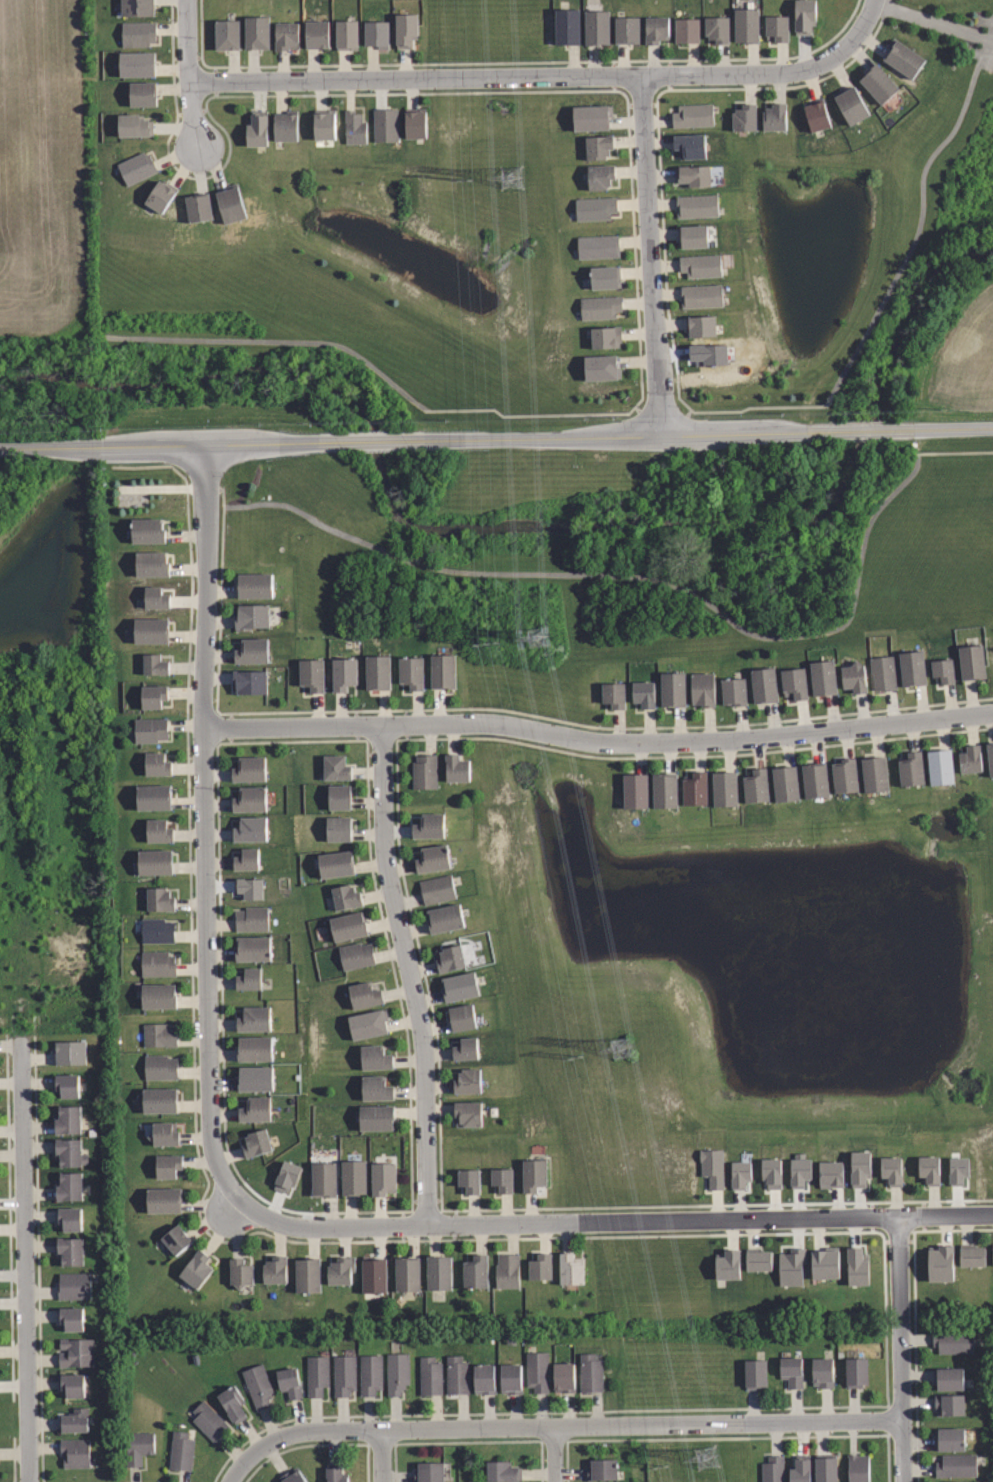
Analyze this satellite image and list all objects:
building: (136, 7)
building: (805, 16)
building: (745, 24)
building: (568, 25)
building: (598, 26)
building: (776, 27)
building: (716, 28)
road: (858, 28)
building: (407, 30)
building: (626, 30)
building: (655, 30)
building: (686, 30)
building: (256, 31)
building: (137, 33)
building: (348, 33)
building: (375, 33)
building: (226, 34)
building: (315, 34)
building: (287, 36)
building: (905, 59)
building: (136, 64)
road: (188, 71)
road: (516, 78)
building: (877, 84)
building: (141, 94)
building: (851, 104)
building: (693, 115)
building: (817, 115)
building: (591, 117)
building: (774, 117)
building: (744, 118)
building: (415, 122)
building: (324, 124)
building: (134, 125)
building: (386, 125)
building: (286, 126)
building: (354, 127)
building: (257, 128)
building: (690, 145)
building: (597, 146)
building: (137, 168)
building: (693, 174)
building: (601, 176)
power tower: (511, 180)
building: (161, 194)
building: (231, 204)
building: (699, 206)
building: (199, 207)
building: (598, 209)
road: (919, 221)
building: (694, 236)
building: (599, 245)
road: (649, 256)
building: (701, 265)
building: (605, 276)
building: (703, 296)
building: (602, 307)
building: (702, 326)
building: (606, 337)
building: (599, 367)
road: (496, 437)
building: (148, 530)
building: (153, 563)
road: (634, 575)
building: (255, 586)
building: (155, 596)
building: (252, 617)
building: (153, 628)
power tower: (541, 644)
building: (252, 650)
building: (972, 661)
building: (154, 663)
building: (913, 667)
building: (943, 670)
building: (445, 671)
building: (380, 672)
building: (413, 672)
building: (883, 673)
building: (314, 674)
building: (346, 675)
building: (825, 677)
building: (853, 677)
building: (252, 682)
building: (765, 684)
building: (796, 685)
building: (671, 690)
building: (702, 690)
building: (733, 691)
building: (614, 693)
building: (643, 693)
building: (154, 695)
building: (151, 730)
road: (598, 742)
building: (991, 756)
building: (968, 759)
building: (157, 764)
building: (336, 766)
building: (941, 766)
building: (911, 768)
building: (250, 769)
building: (455, 769)
building: (422, 771)
building: (875, 773)
building: (845, 774)
building: (816, 780)
building: (786, 783)
building: (757, 786)
building: (530, 788)
building: (694, 788)
building: (726, 788)
building: (636, 790)
building: (666, 790)
building: (339, 796)
building: (154, 797)
building: (250, 799)
road: (203, 825)
building: (429, 825)
building: (251, 828)
building: (339, 828)
building: (159, 830)
building: (433, 858)
building: (246, 859)
building: (156, 861)
building: (337, 864)
building: (248, 887)
building: (438, 889)
building: (347, 896)
building: (161, 899)
building: (253, 919)
building: (446, 919)
building: (349, 926)
building: (159, 930)
building: (254, 949)
building: (356, 956)
building: (448, 957)
building: (159, 964)
road: (410, 974)
building: (249, 978)
building: (461, 987)
building: (364, 994)
building: (159, 995)
building: (461, 1015)
building: (254, 1019)
building: (367, 1025)
building: (160, 1035)
building: (255, 1049)
building: (465, 1049)
power tower: (622, 1049)
building: (70, 1053)
building: (375, 1058)
building: (161, 1067)
building: (255, 1079)
building: (467, 1079)
building: (66, 1085)
building: (377, 1089)
building: (161, 1100)
building: (255, 1110)
building: (467, 1112)
building: (378, 1118)
building: (69, 1120)
building: (165, 1134)
building: (258, 1142)
building: (70, 1152)
building: (169, 1166)
building: (712, 1167)
building: (958, 1168)
building: (860, 1169)
building: (930, 1169)
building: (893, 1170)
building: (800, 1171)
building: (533, 1172)
building: (771, 1173)
building: (740, 1174)
building: (830, 1174)
building: (287, 1177)
building: (356, 1178)
building: (326, 1179)
building: (385, 1179)
building: (468, 1180)
building: (500, 1180)
building: (70, 1186)
building: (165, 1200)
building: (71, 1218)
road: (612, 1222)
building: (175, 1238)
building: (72, 1251)
building: (973, 1255)
building: (989, 1258)
building: (758, 1259)
road: (24, 1260)
building: (940, 1262)
building: (825, 1264)
building: (727, 1266)
building: (537, 1267)
building: (791, 1267)
building: (857, 1267)
building: (196, 1269)
building: (275, 1269)
building: (340, 1270)
building: (568, 1270)
building: (476, 1271)
building: (507, 1271)
building: (241, 1272)
building: (439, 1273)
building: (408, 1274)
building: (308, 1275)
building: (375, 1275)
building: (73, 1285)
building: (70, 1318)
building: (952, 1341)
road: (902, 1349)
building: (76, 1352)
building: (789, 1371)
building: (855, 1371)
building: (398, 1372)
building: (537, 1372)
building: (821, 1372)
building: (592, 1373)
building: (753, 1374)
building: (318, 1375)
building: (345, 1375)
building: (371, 1375)
building: (431, 1376)
building: (458, 1376)
building: (564, 1376)
building: (485, 1377)
building: (511, 1377)
building: (949, 1379)
building: (289, 1381)
building: (72, 1383)
building: (258, 1385)
building: (233, 1402)
building: (949, 1403)
building: (74, 1420)
building: (209, 1420)
road: (557, 1425)
building: (950, 1439)
building: (139, 1446)
building: (181, 1450)
building: (75, 1452)
road: (553, 1454)
power tower: (707, 1454)
road: (381, 1455)
building: (957, 1466)
building: (826, 1467)
building: (858, 1467)
building: (800, 1468)
building: (603, 1469)
building: (773, 1469)
building: (503, 1471)
building: (430, 1472)
building: (336, 1473)
building: (292, 1477)

